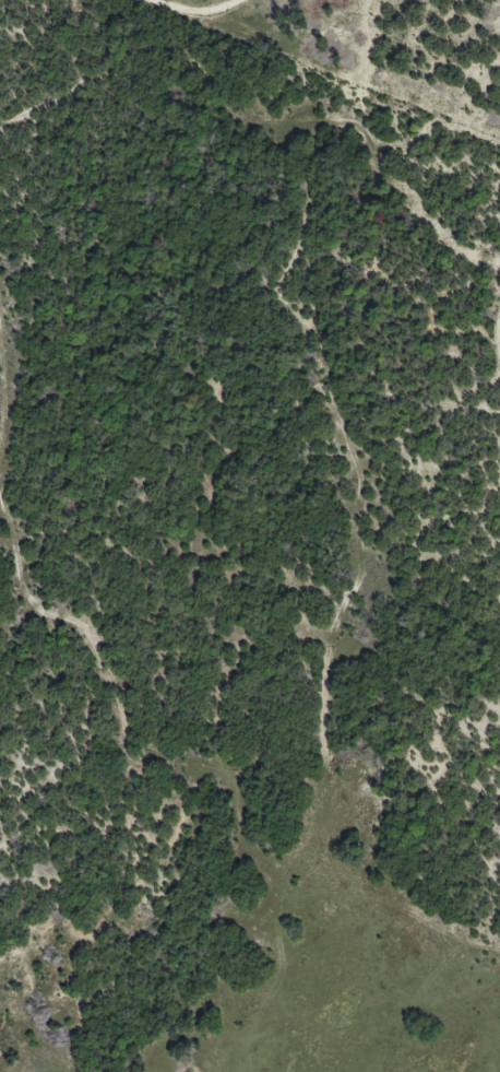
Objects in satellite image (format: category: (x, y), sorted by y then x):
road: (471, 4)
road: (298, 603)

